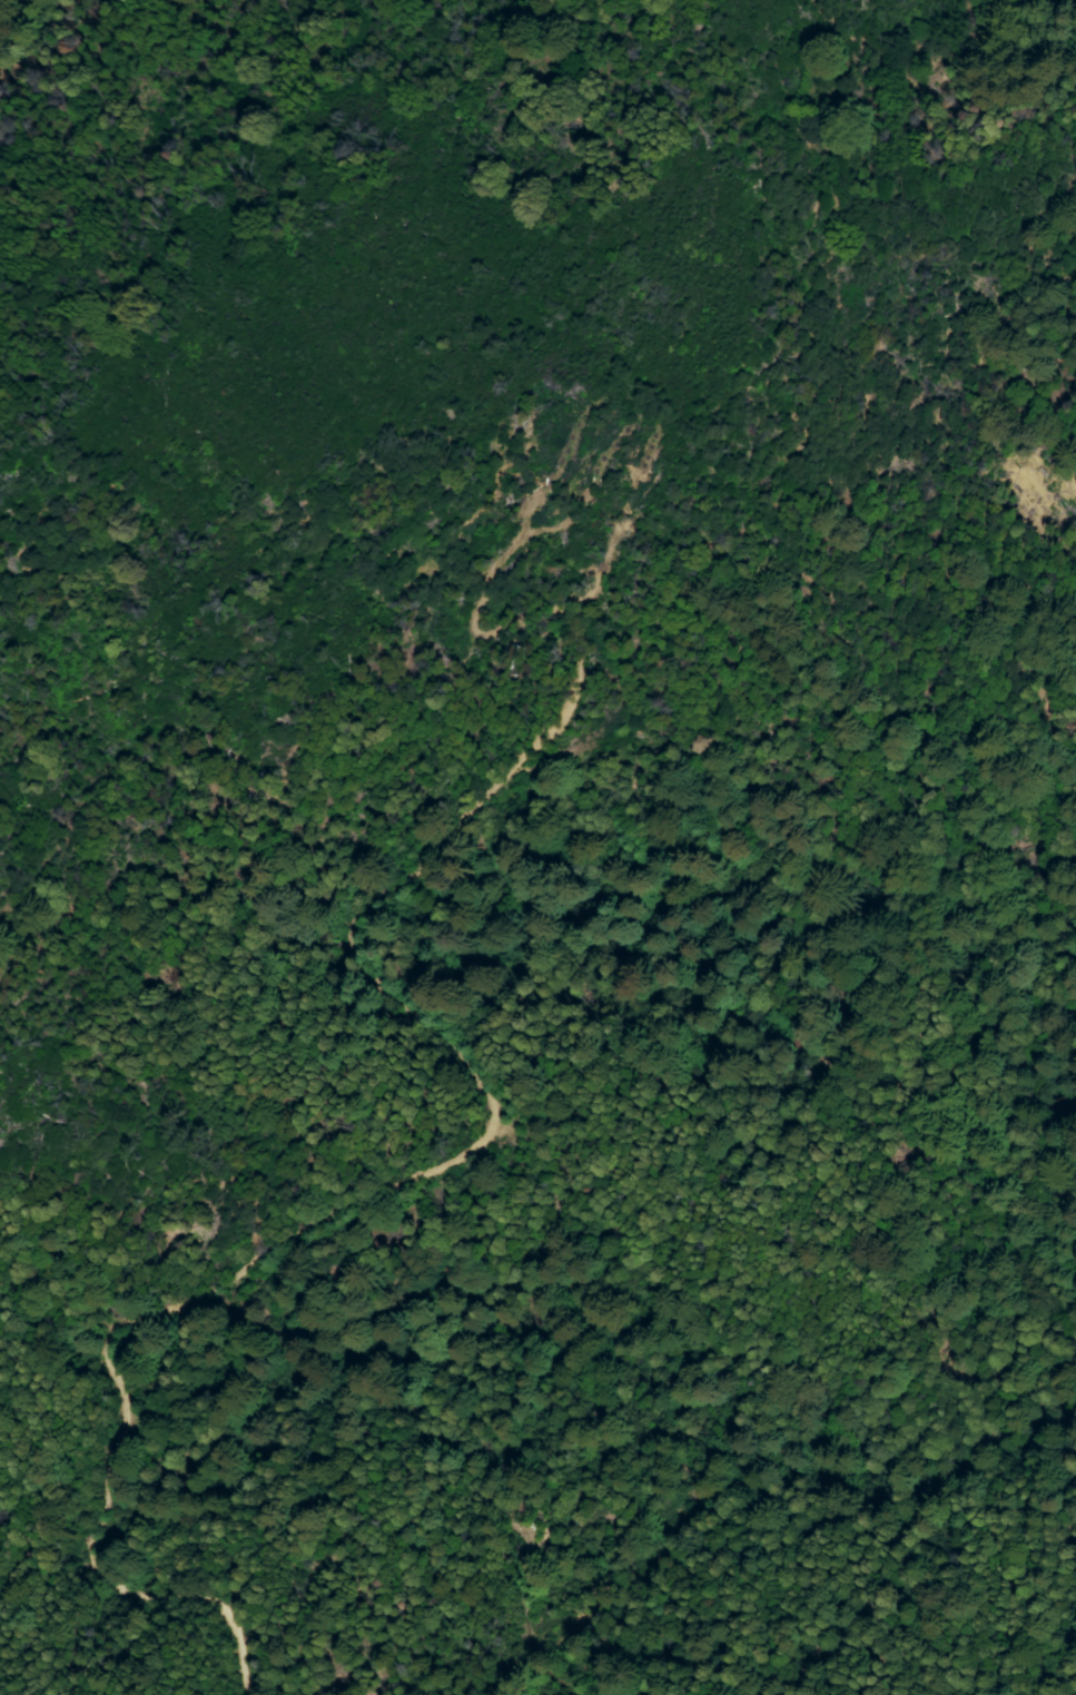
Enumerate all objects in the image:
road: (236, 1619)

